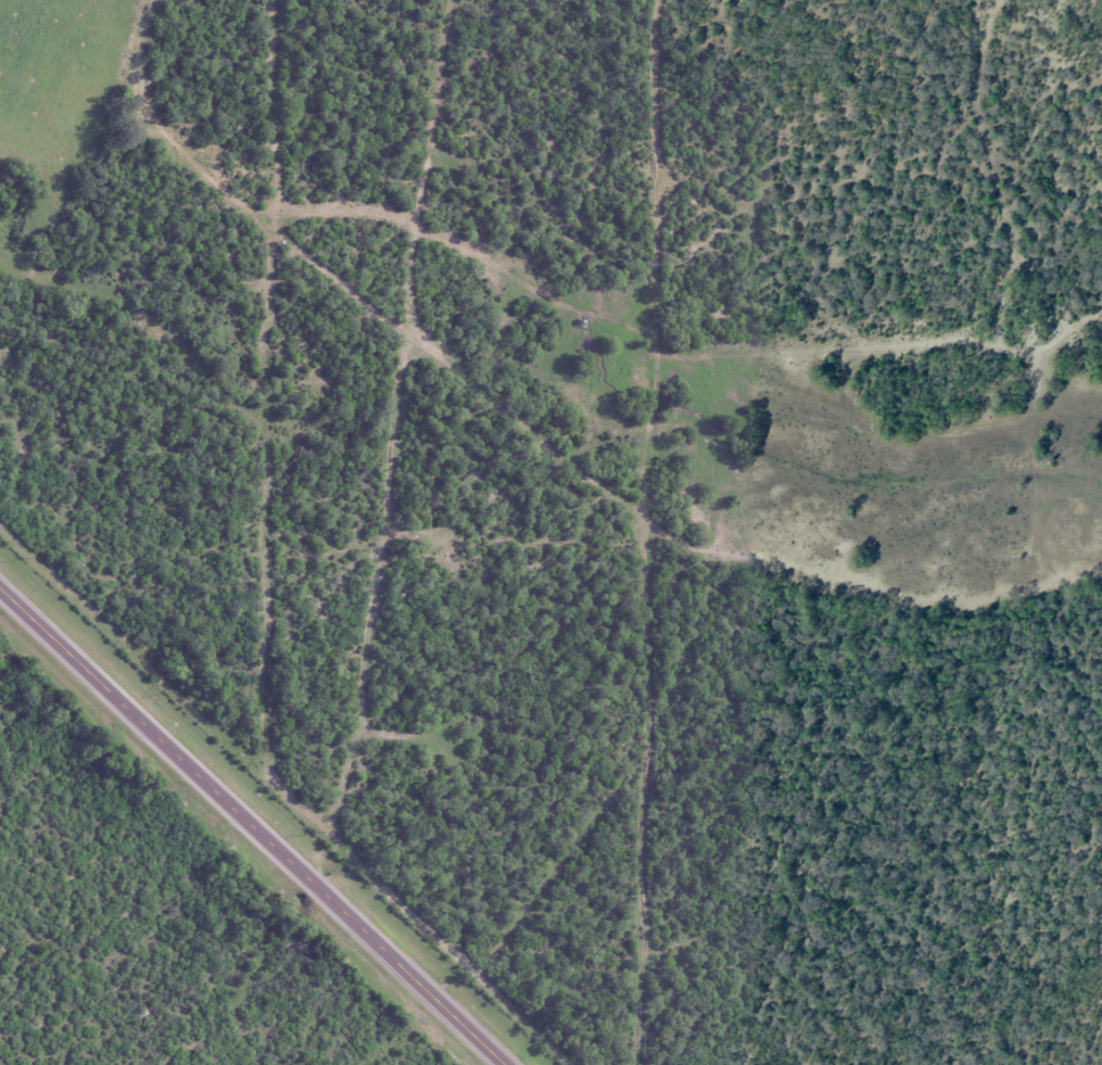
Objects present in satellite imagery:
road: (250, 828)

